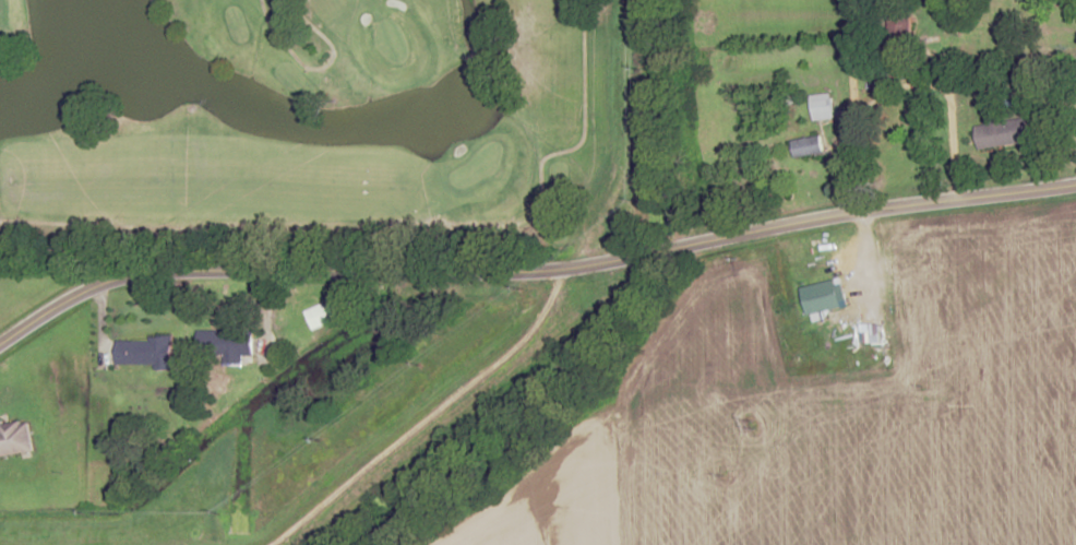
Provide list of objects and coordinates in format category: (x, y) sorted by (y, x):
road: (322, 73)
building: (822, 107)
road: (849, 109)
road: (586, 112)
road: (944, 119)
park: (320, 127)
road: (624, 129)
building: (1004, 133)
building: (808, 146)
road: (304, 229)
road: (531, 263)
building: (318, 316)
building: (227, 345)
building: (145, 352)
building: (14, 437)

